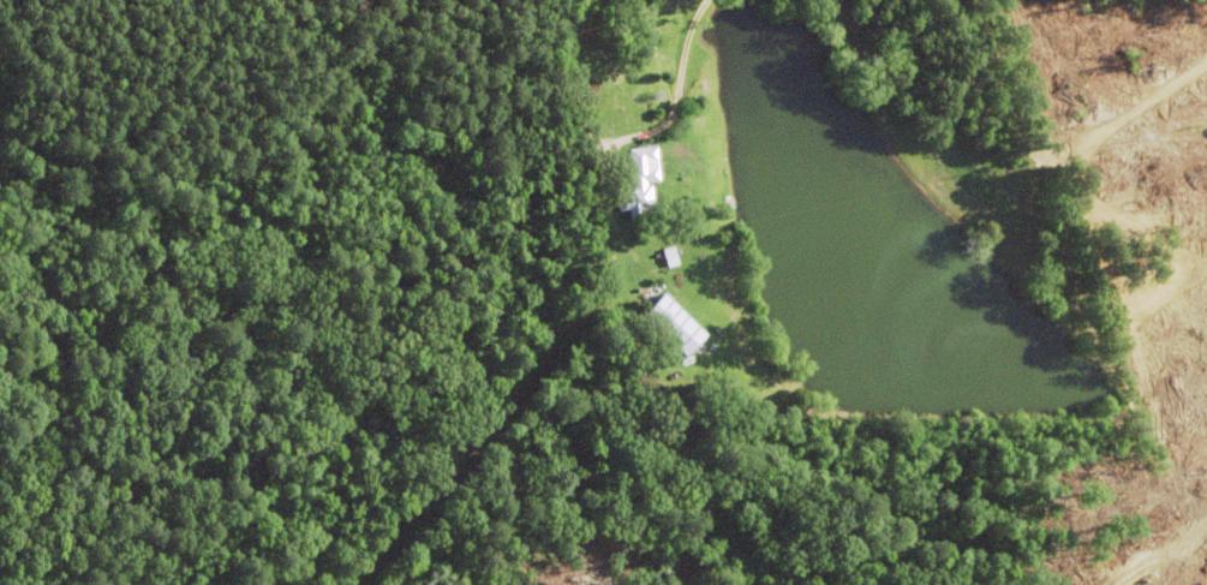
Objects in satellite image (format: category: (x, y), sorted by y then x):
building: (639, 181)
road: (423, 308)
building: (670, 327)

